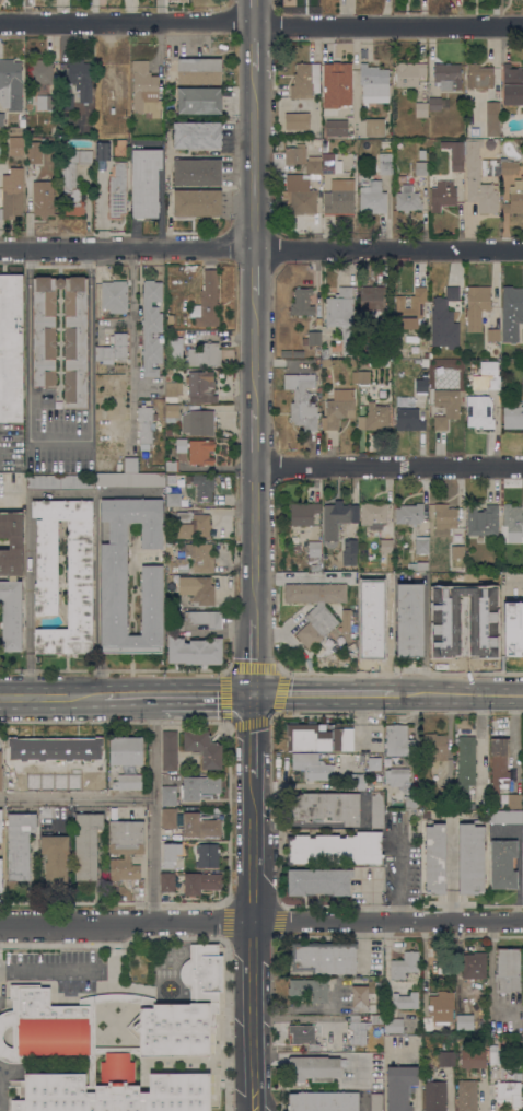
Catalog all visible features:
road: (253, 15)
road: (260, 31)
road: (253, 50)
building: (363, 54)
building: (168, 66)
building: (199, 71)
building: (40, 72)
building: (409, 73)
building: (79, 74)
building: (448, 75)
building: (479, 77)
building: (305, 80)
building: (337, 82)
building: (374, 83)
building: (11, 84)
building: (512, 84)
building: (144, 90)
building: (199, 101)
building: (47, 102)
building: (67, 102)
building: (434, 104)
building: (421, 109)
building: (1, 119)
building: (492, 119)
building: (297, 120)
building: (22, 121)
building: (336, 127)
building: (374, 127)
building: (14, 131)
building: (28, 133)
building: (197, 135)
building: (385, 144)
building: (15, 148)
building: (119, 149)
building: (102, 151)
building: (33, 152)
building: (421, 154)
building: (455, 154)
building: (66, 155)
building: (81, 155)
building: (302, 159)
road: (253, 162)
building: (330, 163)
building: (385, 164)
building: (508, 166)
building: (489, 167)
building: (421, 168)
building: (197, 172)
building: (478, 179)
building: (146, 182)
building: (71, 190)
building: (117, 190)
building: (300, 194)
building: (442, 195)
building: (339, 197)
building: (373, 197)
building: (44, 198)
building: (283, 198)
building: (514, 198)
building: (12, 199)
building: (408, 199)
building: (197, 202)
building: (283, 206)
road: (464, 231)
road: (260, 254)
road: (253, 274)
building: (113, 296)
building: (478, 297)
building: (372, 300)
building: (207, 301)
building: (302, 302)
building: (410, 307)
building: (511, 313)
building: (341, 316)
road: (132, 320)
building: (444, 320)
building: (151, 327)
building: (384, 332)
building: (493, 335)
building: (522, 335)
building: (44, 337)
building: (312, 338)
road: (27, 344)
road: (90, 344)
building: (11, 348)
building: (113, 349)
building: (176, 349)
road: (253, 351)
building: (210, 353)
building: (325, 353)
building: (193, 356)
building: (326, 362)
building: (318, 367)
building: (168, 372)
building: (355, 376)
building: (363, 376)
building: (167, 378)
building: (493, 379)
building: (522, 381)
building: (468, 384)
building: (421, 385)
building: (200, 386)
building: (172, 390)
building: (302, 400)
building: (445, 405)
building: (338, 409)
building: (479, 412)
building: (172, 413)
building: (408, 414)
building: (374, 417)
building: (513, 417)
building: (198, 422)
building: (146, 425)
building: (168, 432)
road: (253, 437)
road: (59, 438)
building: (182, 442)
parking lot: (11, 446)
building: (201, 452)
building: (130, 465)
building: (172, 466)
road: (387, 468)
building: (131, 479)
building: (60, 481)
building: (204, 487)
road: (5, 498)
building: (173, 500)
building: (216, 511)
building: (303, 513)
building: (373, 513)
building: (409, 513)
building: (336, 517)
building: (444, 518)
building: (483, 519)
building: (513, 522)
building: (189, 525)
road: (253, 542)
building: (421, 545)
building: (386, 546)
building: (297, 548)
building: (350, 548)
building: (80, 551)
building: (457, 551)
building: (314, 552)
building: (467, 554)
building: (195, 559)
building: (419, 565)
road: (28, 566)
building: (316, 568)
road: (522, 578)
building: (11, 580)
building: (114, 582)
building: (387, 585)
building: (197, 589)
building: (315, 608)
building: (205, 619)
building: (410, 619)
building: (346, 620)
building: (513, 629)
building: (376, 634)
building: (195, 651)
road: (253, 659)
road: (458, 698)
road: (51, 699)
road: (129, 699)
road: (323, 699)
road: (205, 700)
traffic signals: (253, 700)
road: (360, 722)
building: (522, 735)
building: (319, 736)
road: (252, 738)
building: (398, 741)
building: (435, 746)
building: (55, 748)
building: (204, 748)
building: (126, 750)
building: (168, 750)
building: (373, 762)
building: (466, 762)
building: (499, 764)
building: (312, 767)
building: (0, 773)
building: (397, 777)
building: (355, 781)
building: (24, 782)
building: (83, 782)
building: (128, 782)
road: (291, 785)
building: (199, 786)
building: (446, 794)
building: (168, 795)
building: (412, 802)
building: (512, 802)
road: (78, 803)
building: (472, 806)
building: (325, 807)
building: (377, 810)
road: (154, 811)
building: (423, 815)
building: (505, 817)
building: (168, 818)
building: (200, 826)
building: (1, 827)
building: (19, 844)
building: (86, 844)
building: (125, 849)
building: (335, 849)
building: (171, 854)
building: (207, 855)
building: (434, 858)
building: (470, 858)
building: (55, 861)
building: (503, 864)
road: (451, 870)
building: (0, 873)
building: (167, 881)
building: (201, 881)
building: (318, 881)
road: (397, 881)
road: (261, 924)
road: (252, 944)
building: (324, 958)
building: (474, 964)
building: (404, 966)
road: (47, 968)
building: (508, 970)
road: (490, 975)
building: (310, 989)
building: (360, 997)
building: (406, 1001)
building: (194, 1005)
building: (439, 1010)
building: (9, 1019)
building: (464, 1021)
building: (53, 1024)
building: (394, 1025)
building: (360, 1028)
building: (149, 1030)
building: (306, 1034)
building: (495, 1056)
building: (446, 1057)
building: (474, 1059)
building: (314, 1068)
building: (400, 1087)
building: (185, 1091)
building: (509, 1092)
building: (46, 1094)
building: (94, 1096)
building: (139, 1096)
building: (435, 1096)
building: (467, 1096)
road: (485, 1098)
building: (323, 1101)
building: (376, 1101)

